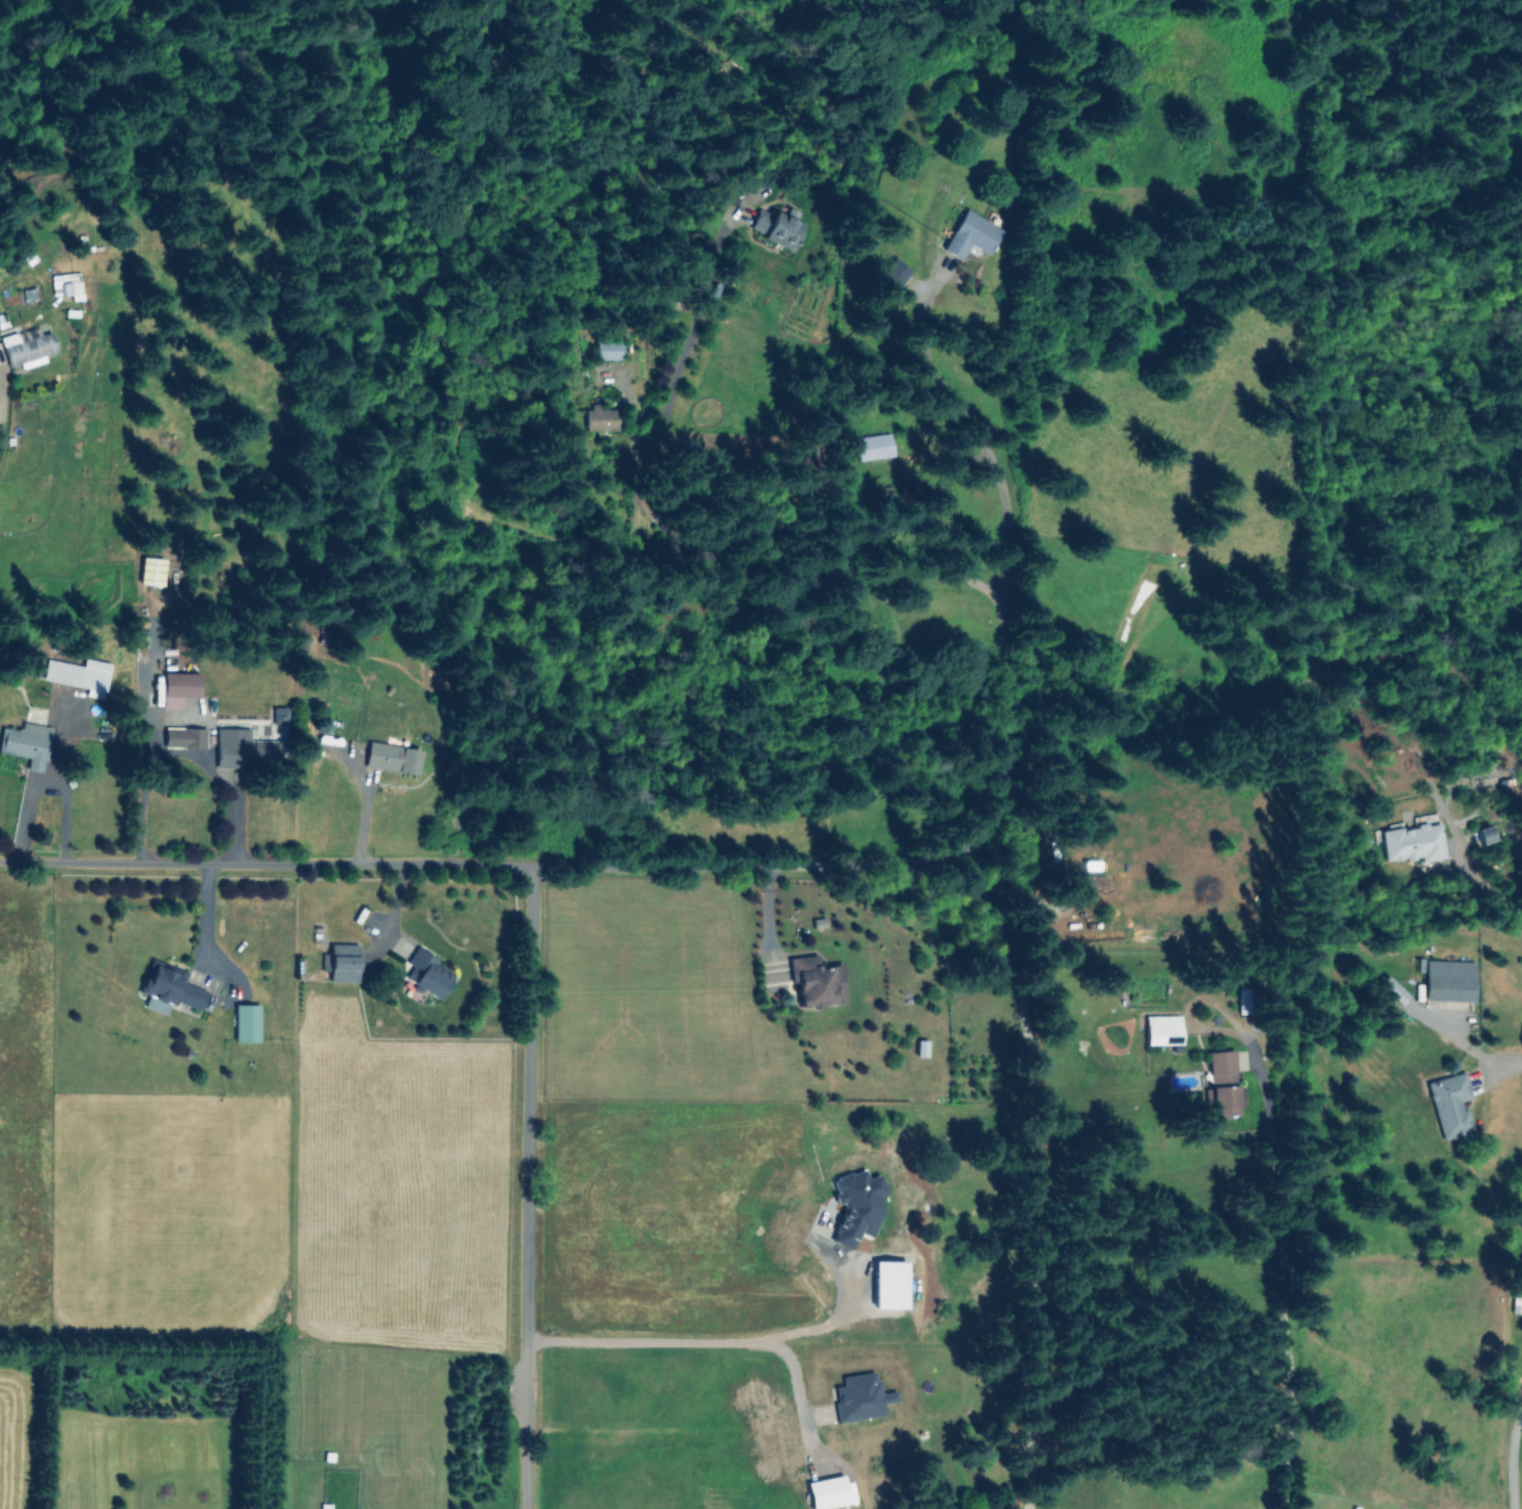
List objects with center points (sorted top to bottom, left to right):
building: (778, 227)
building: (971, 234)
building: (897, 269)
building: (65, 285)
road: (689, 335)
building: (26, 347)
building: (608, 349)
building: (601, 418)
road: (975, 437)
building: (873, 446)
road: (769, 567)
building: (151, 571)
building: (78, 673)
building: (178, 688)
road: (1004, 724)
building: (187, 737)
building: (26, 743)
building: (241, 748)
road: (180, 752)
building: (392, 757)
road: (361, 822)
building: (1411, 843)
road: (485, 864)
road: (1498, 884)
road: (766, 922)
road: (210, 930)
building: (341, 962)
building: (425, 973)
building: (816, 981)
building: (169, 989)
building: (1392, 989)
building: (245, 1023)
building: (1161, 1029)
road: (1442, 1030)
road: (1493, 1057)
building: (1222, 1083)
building: (1450, 1104)
road: (524, 1186)
road: (1273, 1283)
building: (888, 1284)
road: (842, 1316)
road: (747, 1342)
road: (1510, 1452)
building: (826, 1492)

